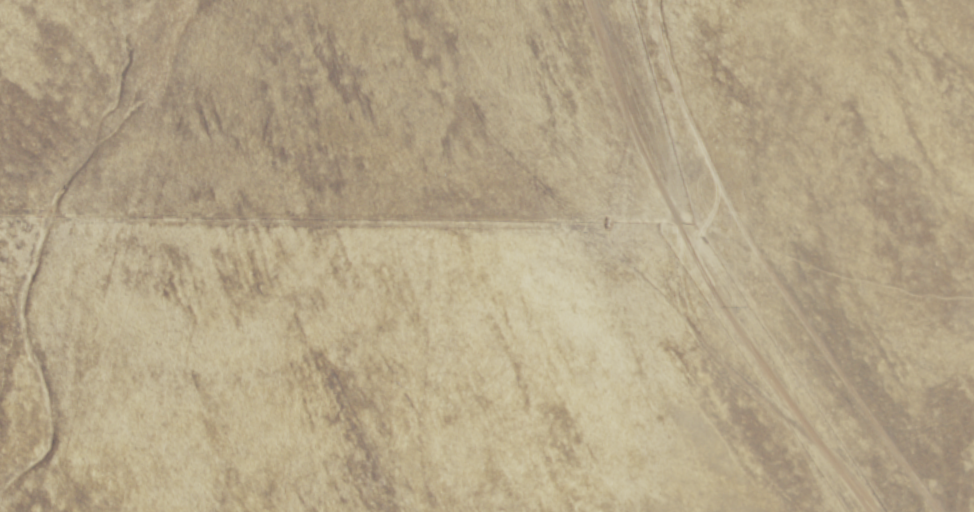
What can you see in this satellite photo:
road: (679, 276)

